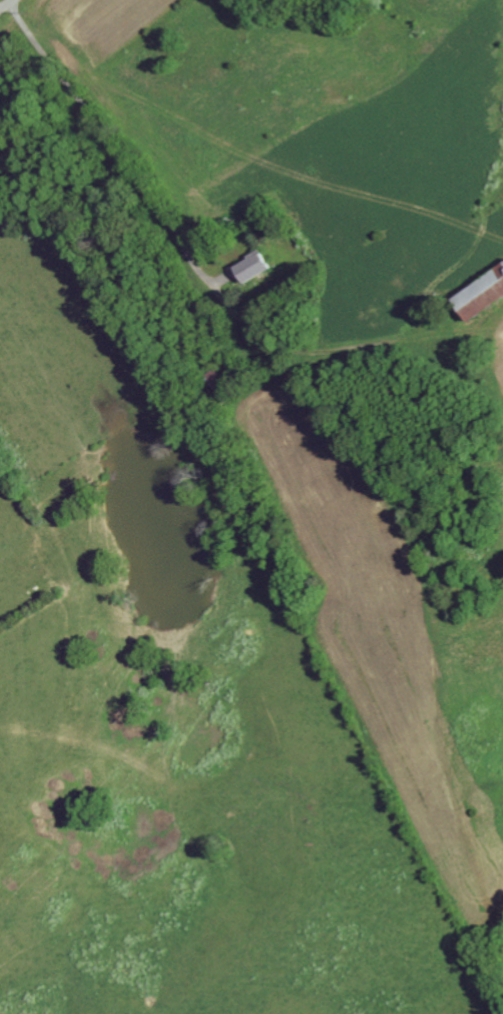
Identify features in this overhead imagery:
road: (7, 5)
road: (112, 143)
building: (255, 268)
building: (483, 298)
road: (327, 353)

